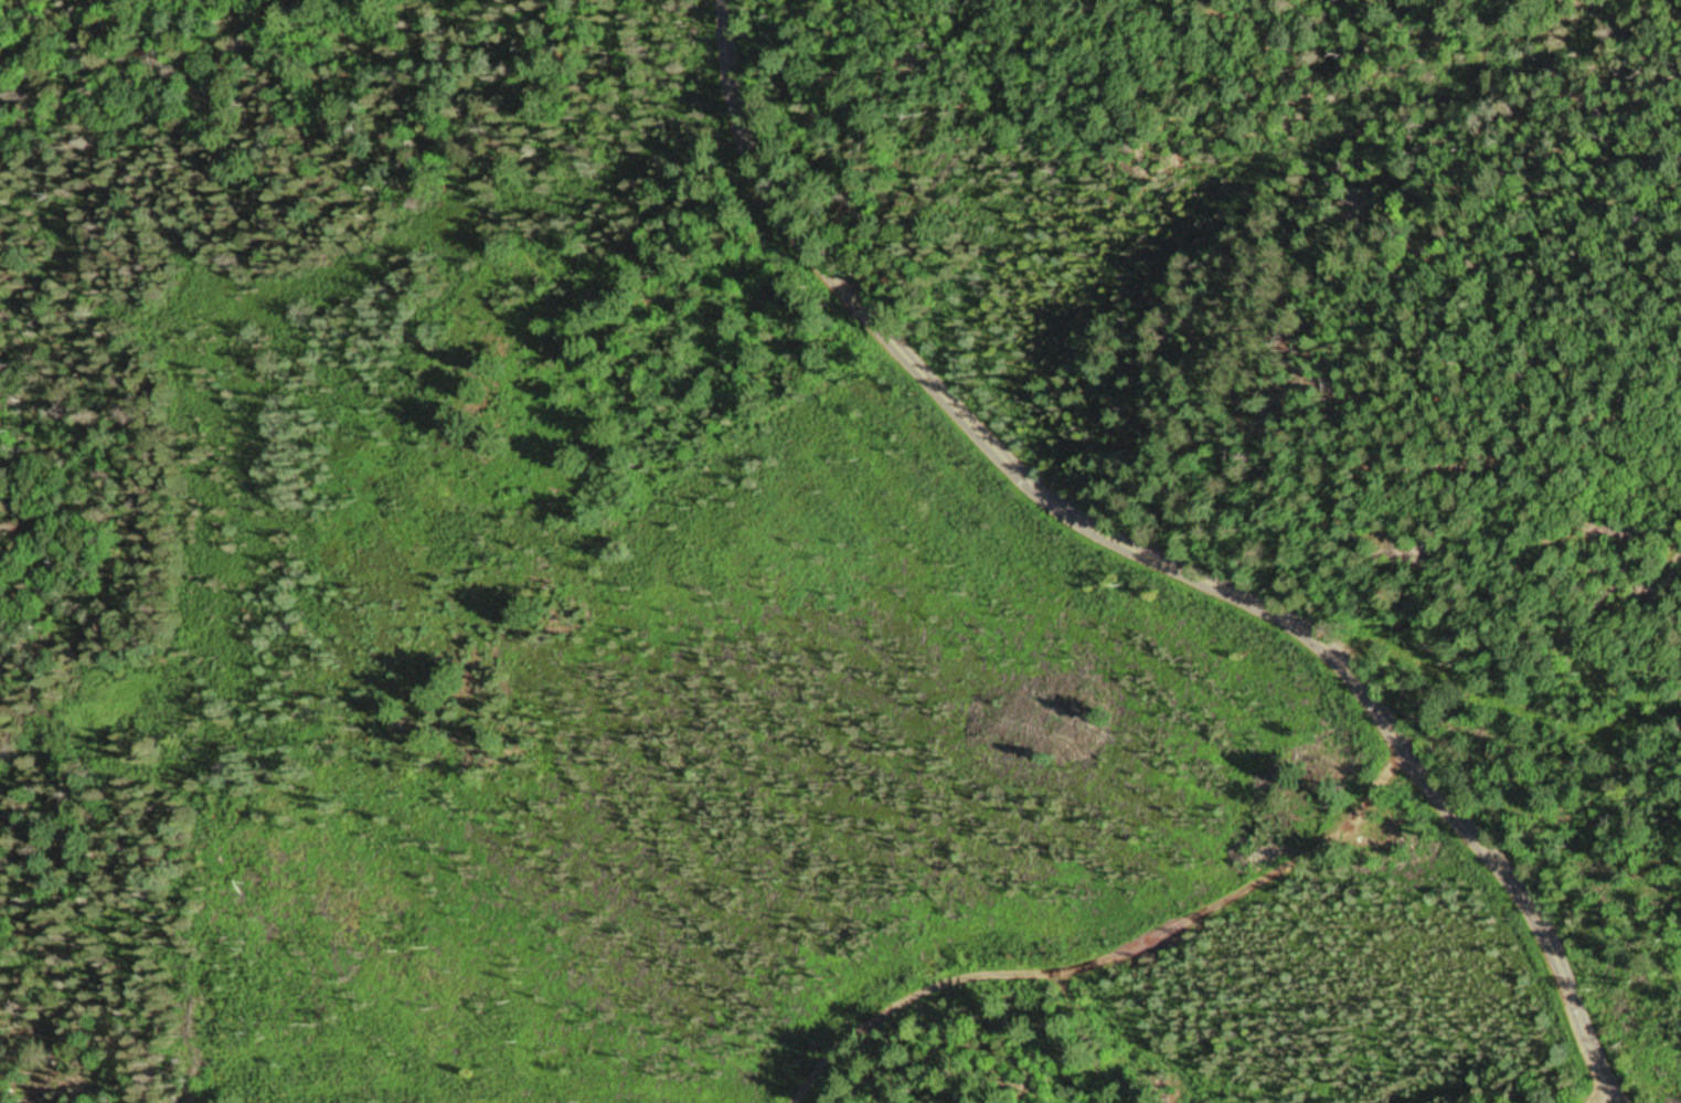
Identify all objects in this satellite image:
road: (327, 184)
road: (993, 436)
road: (1536, 914)
road: (1120, 952)

